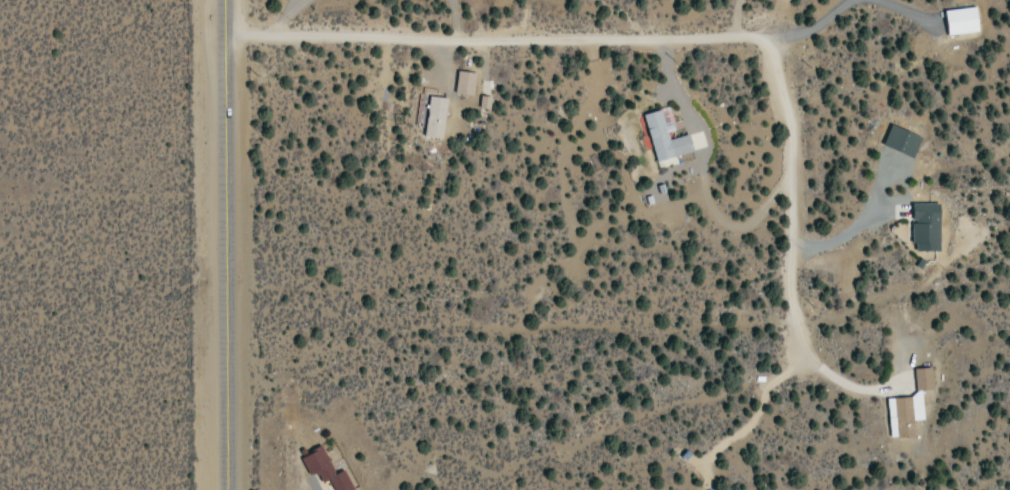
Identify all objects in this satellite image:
building: (957, 22)
road: (652, 35)
building: (470, 86)
building: (441, 115)
building: (906, 137)
building: (667, 140)
building: (697, 142)
building: (930, 228)
road: (220, 245)
building: (924, 364)
building: (921, 380)
building: (896, 419)
building: (330, 472)

